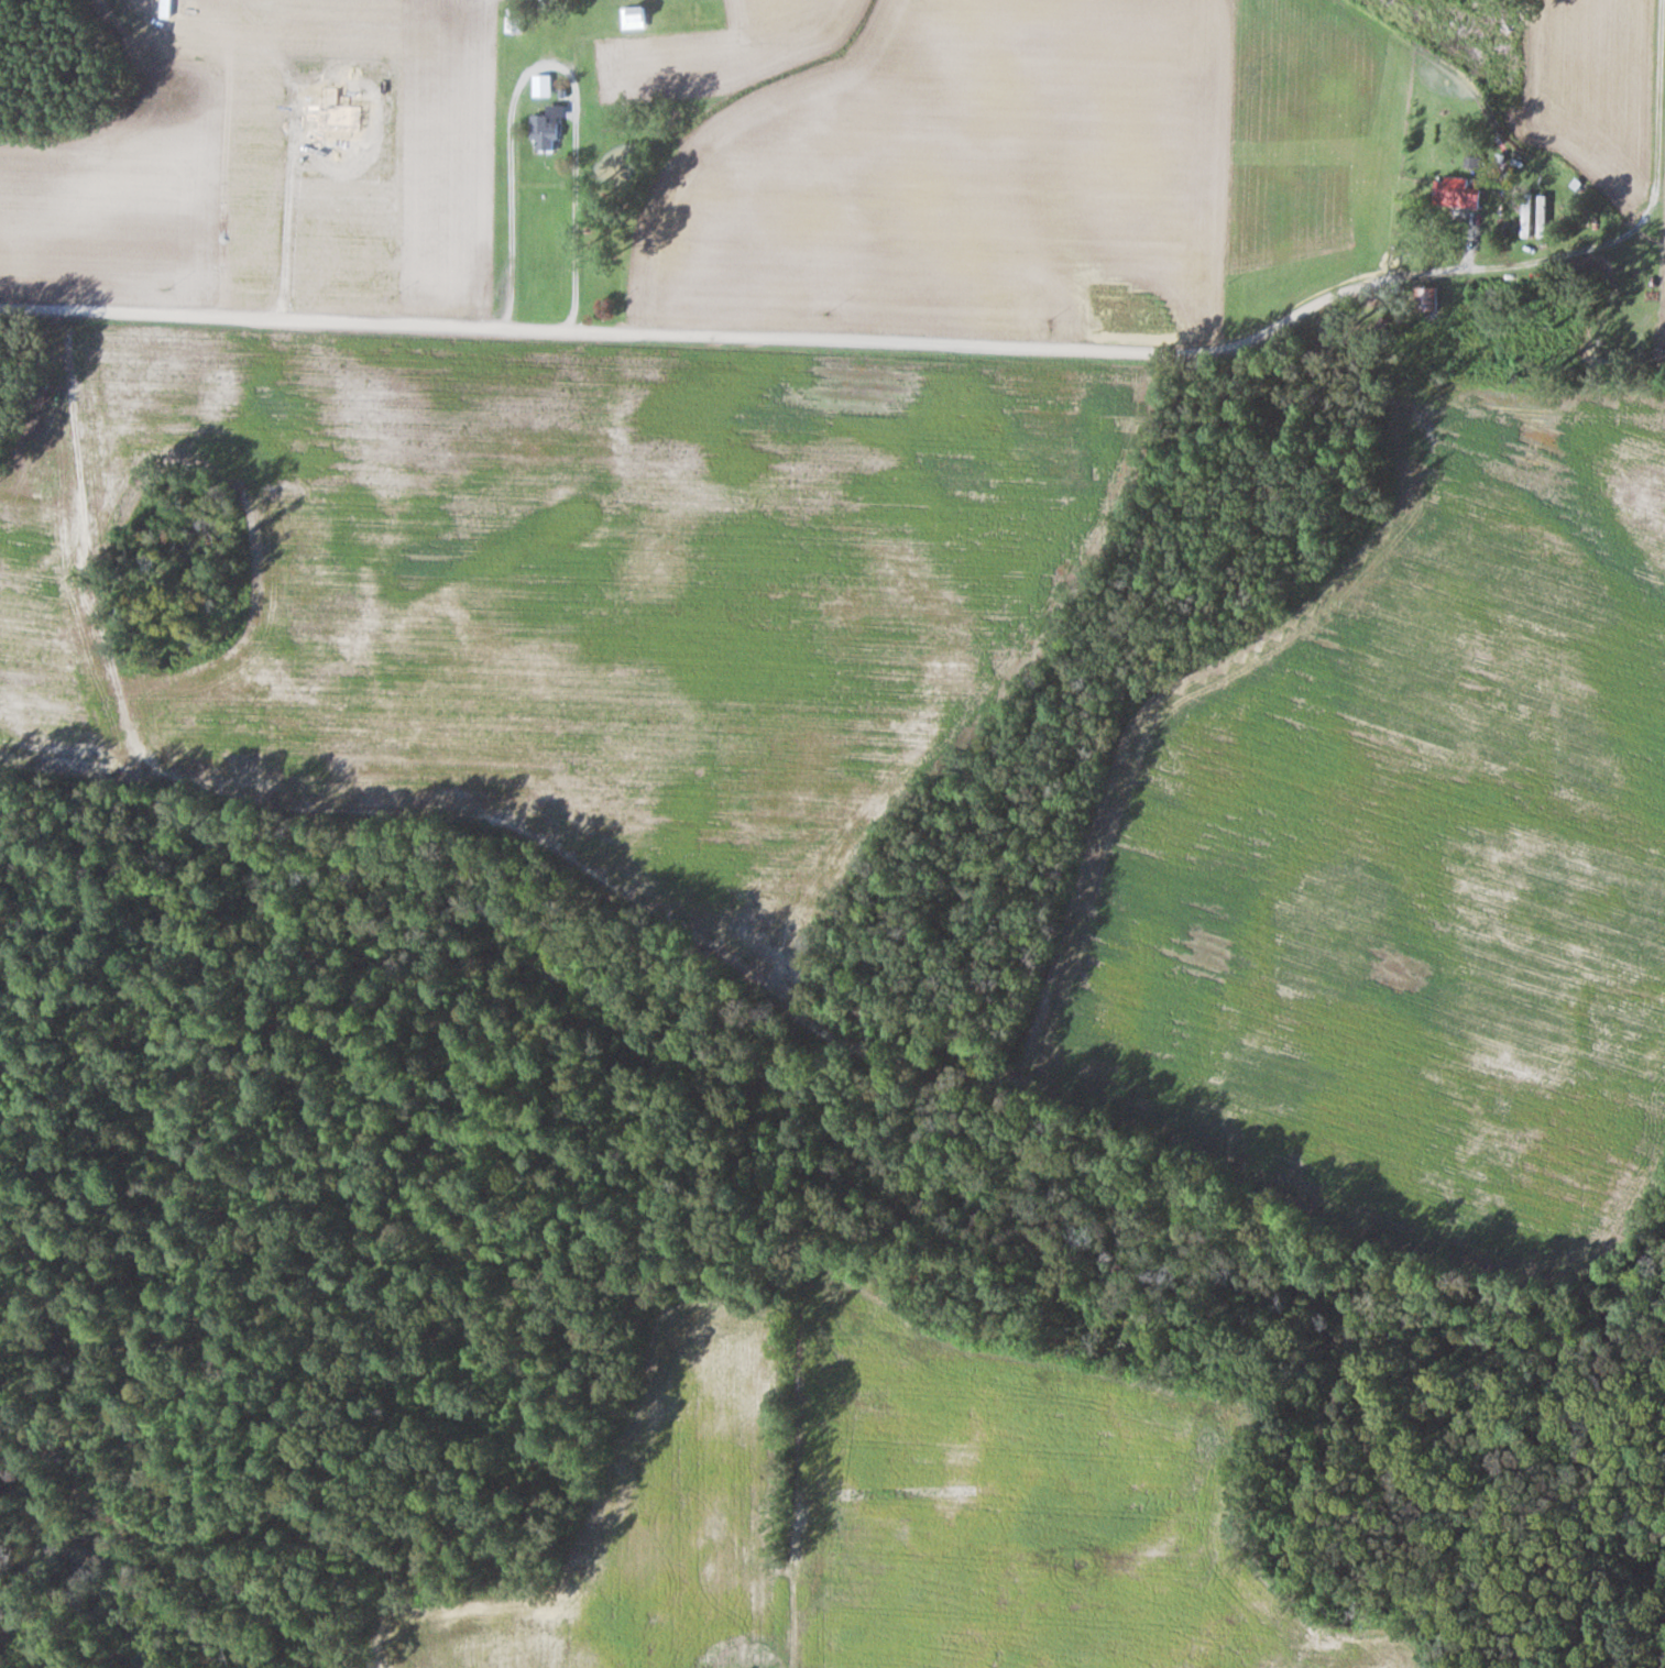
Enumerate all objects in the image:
building: (634, 17)
building: (514, 21)
building: (544, 133)
building: (1455, 191)
building: (1543, 212)
building: (1526, 215)
road: (720, 337)

